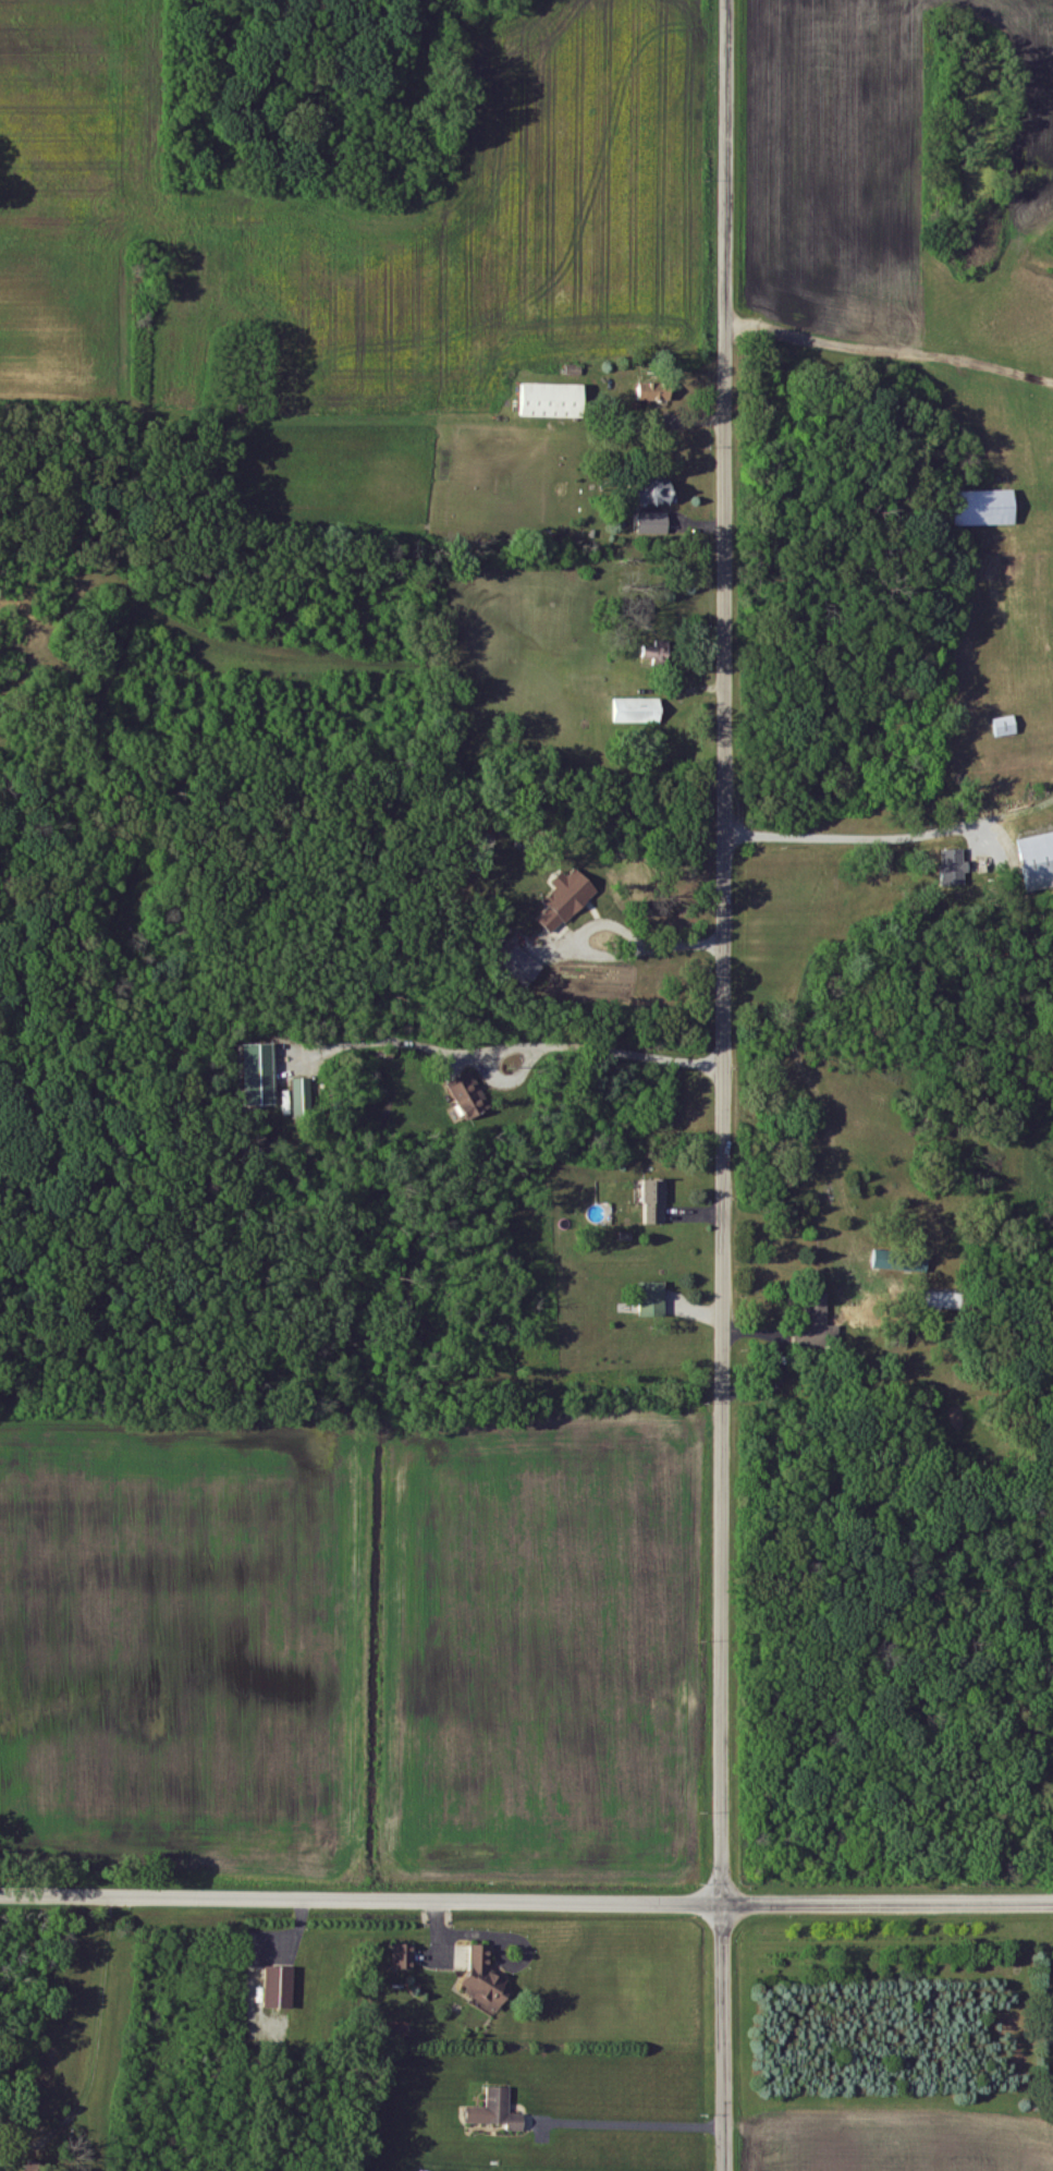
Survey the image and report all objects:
building: (656, 392)
building: (553, 402)
building: (988, 500)
building: (654, 524)
road: (26, 535)
building: (656, 654)
building: (638, 711)
building: (1006, 726)
road: (895, 837)
building: (1038, 861)
building: (954, 868)
road: (82, 886)
building: (566, 899)
road: (634, 949)
building: (522, 966)
road: (603, 1051)
building: (258, 1075)
road: (730, 1083)
building: (302, 1096)
building: (469, 1096)
building: (656, 1202)
building: (886, 1261)
building: (652, 1299)
building: (941, 1300)
building: (816, 1325)
road: (526, 1902)
building: (404, 1957)
building: (486, 1980)
building: (280, 1988)
building: (497, 2112)
road: (628, 2125)

